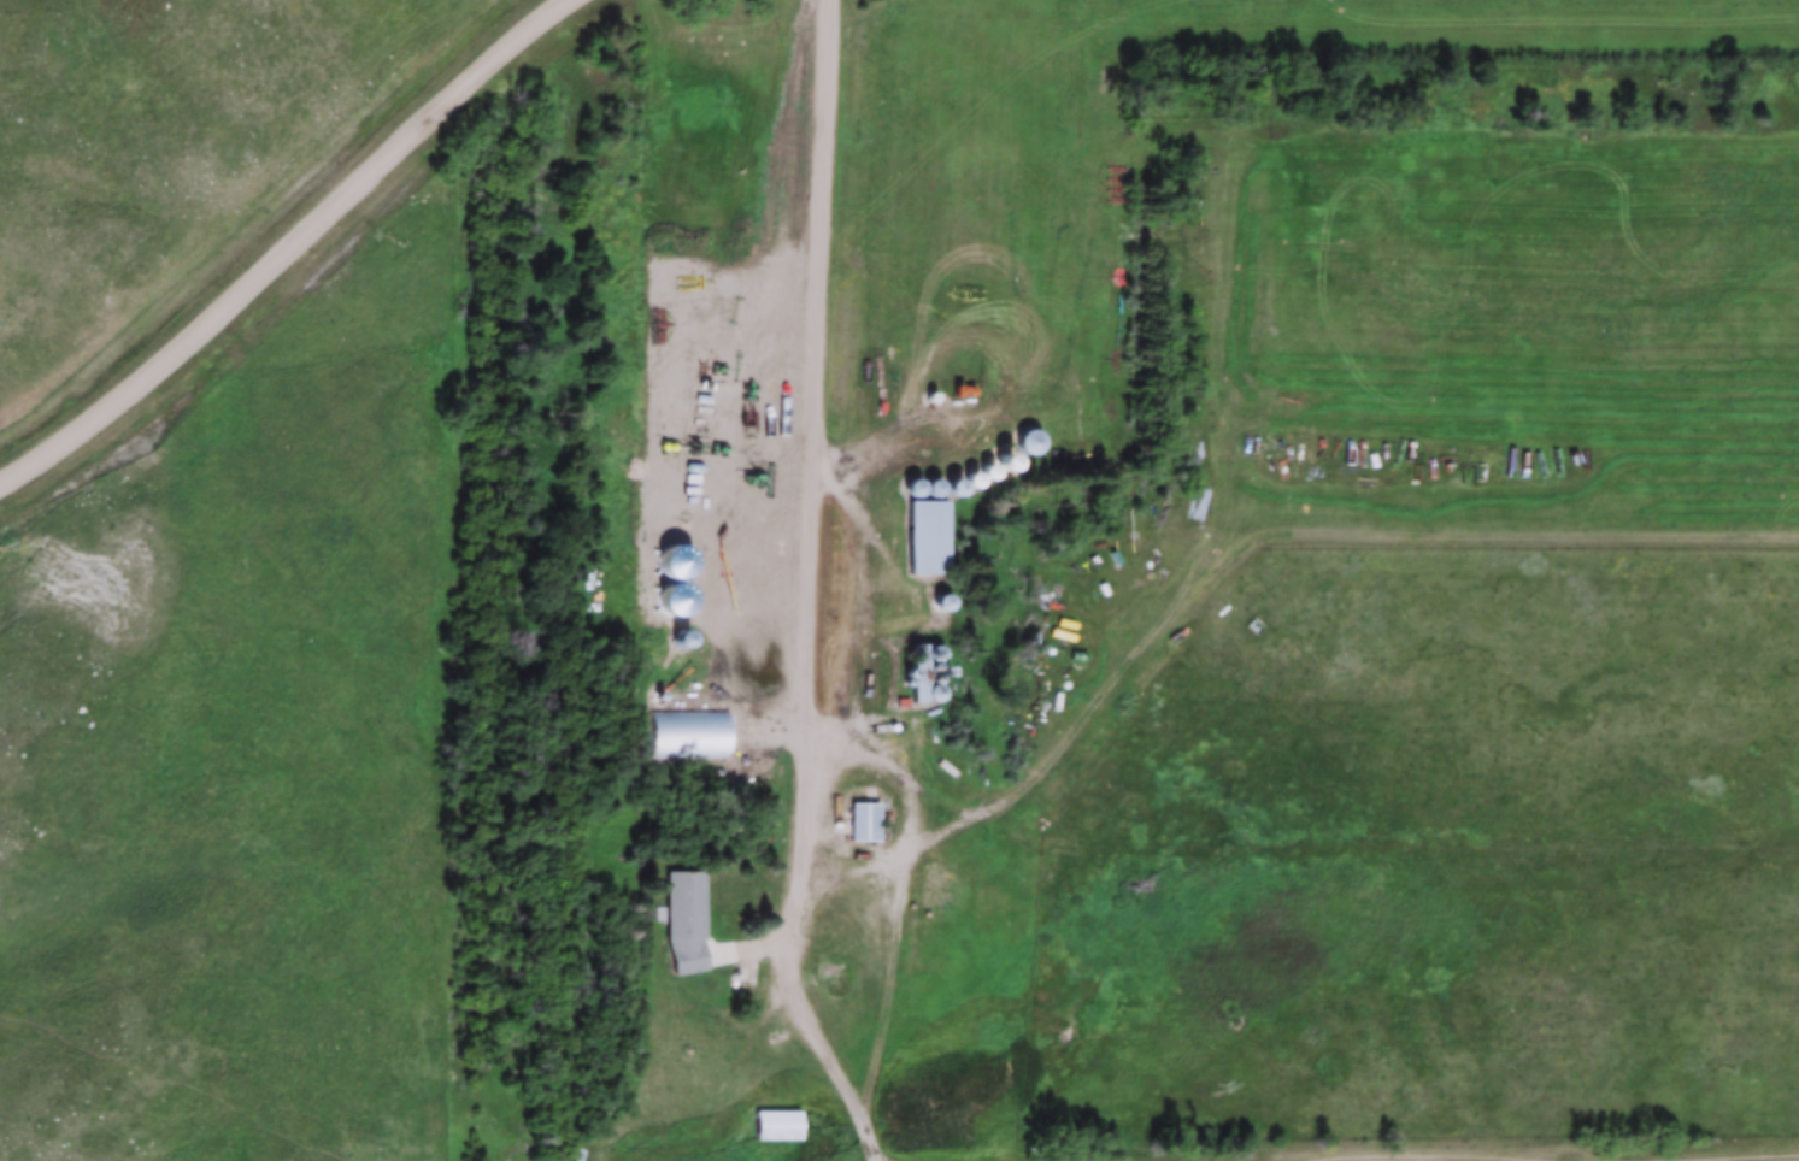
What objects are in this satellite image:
road: (278, 242)
building: (1033, 442)
road: (1287, 532)
building: (931, 538)
road: (806, 590)
building: (686, 731)
road: (905, 800)
building: (860, 821)
building: (684, 920)
building: (780, 1122)

